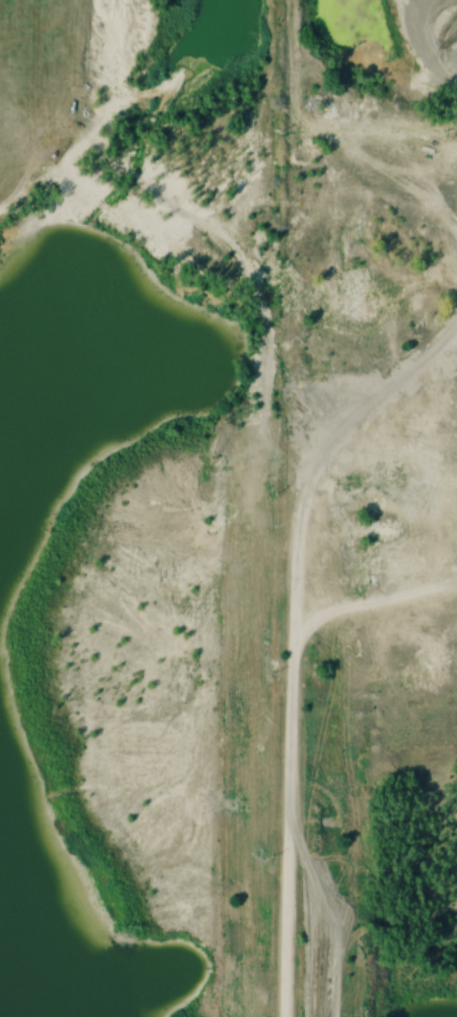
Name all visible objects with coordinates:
road: (291, 508)
building: (369, 531)

